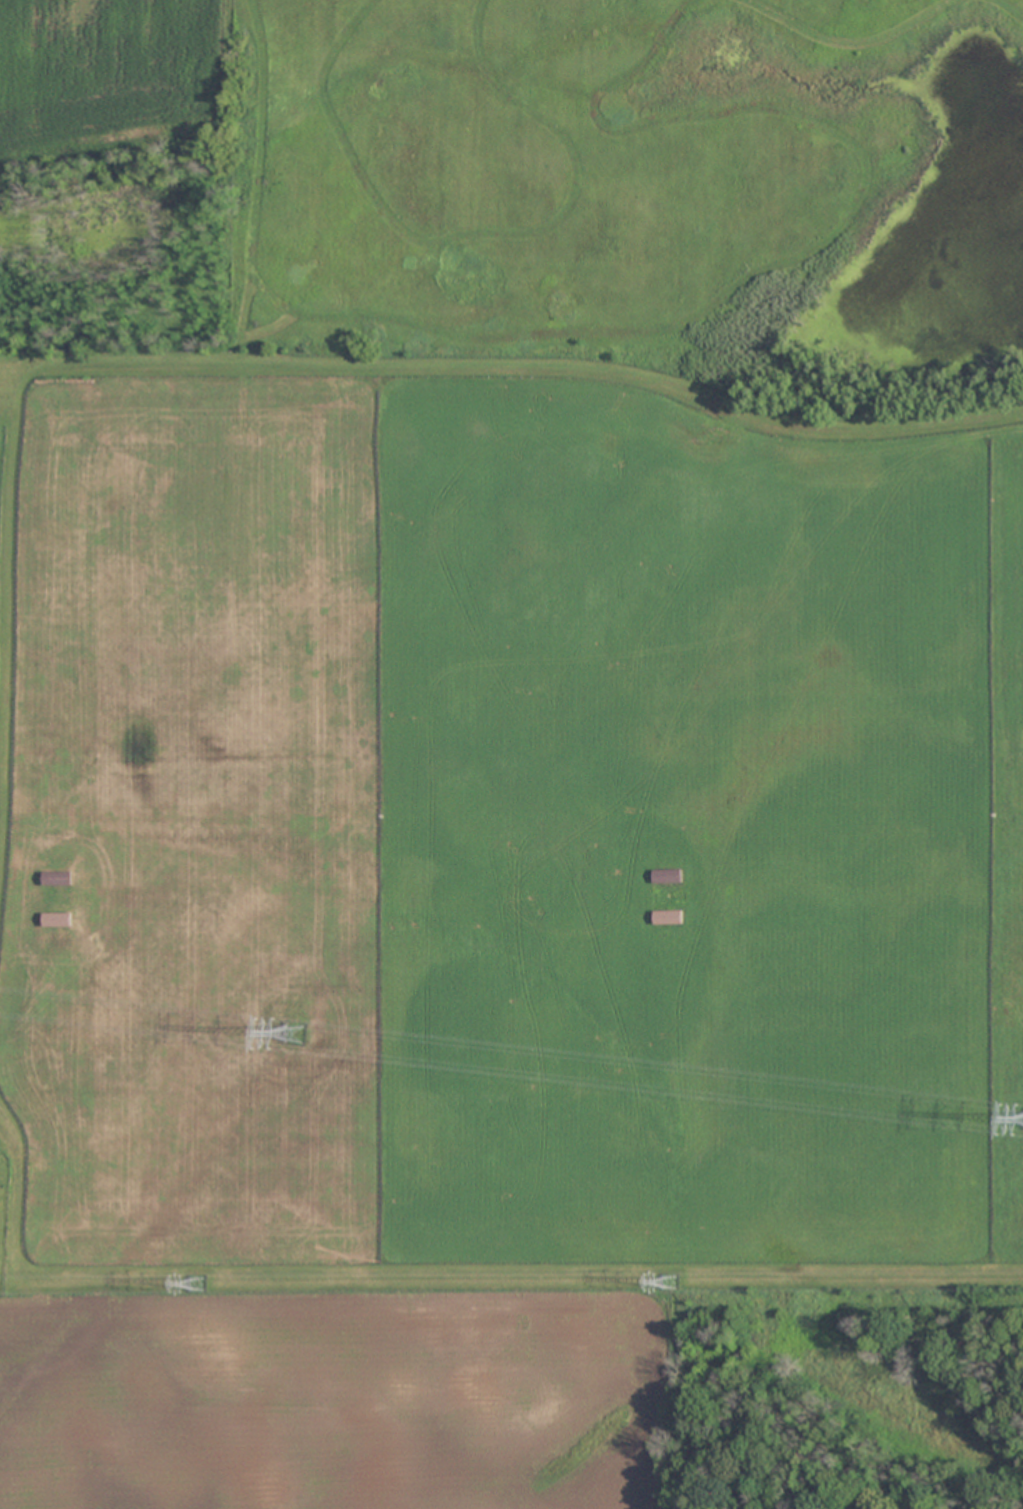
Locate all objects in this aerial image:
crop: (510, 645)
building: (668, 875)
building: (57, 878)
building: (670, 917)
building: (57, 919)
power tower: (294, 1034)
power tower: (669, 1282)
power tower: (197, 1283)

